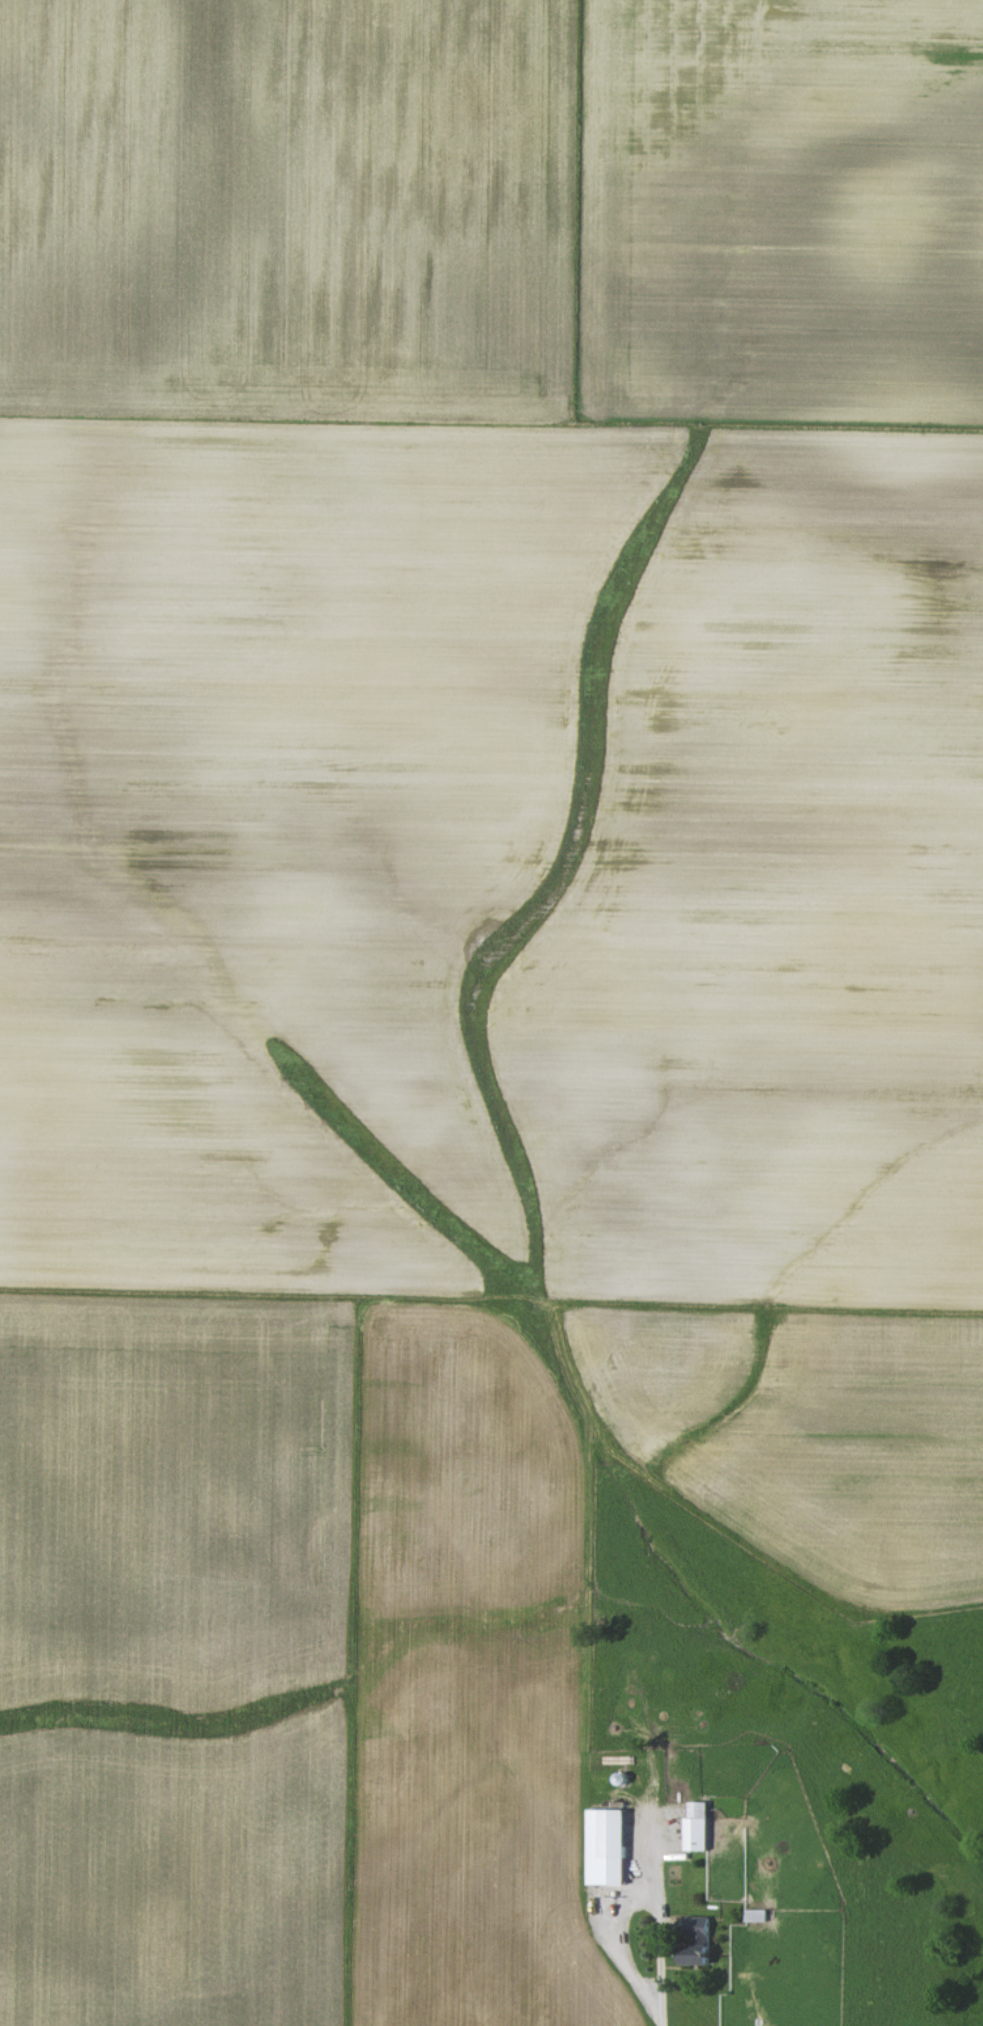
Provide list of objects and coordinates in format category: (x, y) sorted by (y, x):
building: (693, 1826)
building: (602, 1846)
road: (626, 1902)
building: (693, 1942)
road: (664, 2019)

